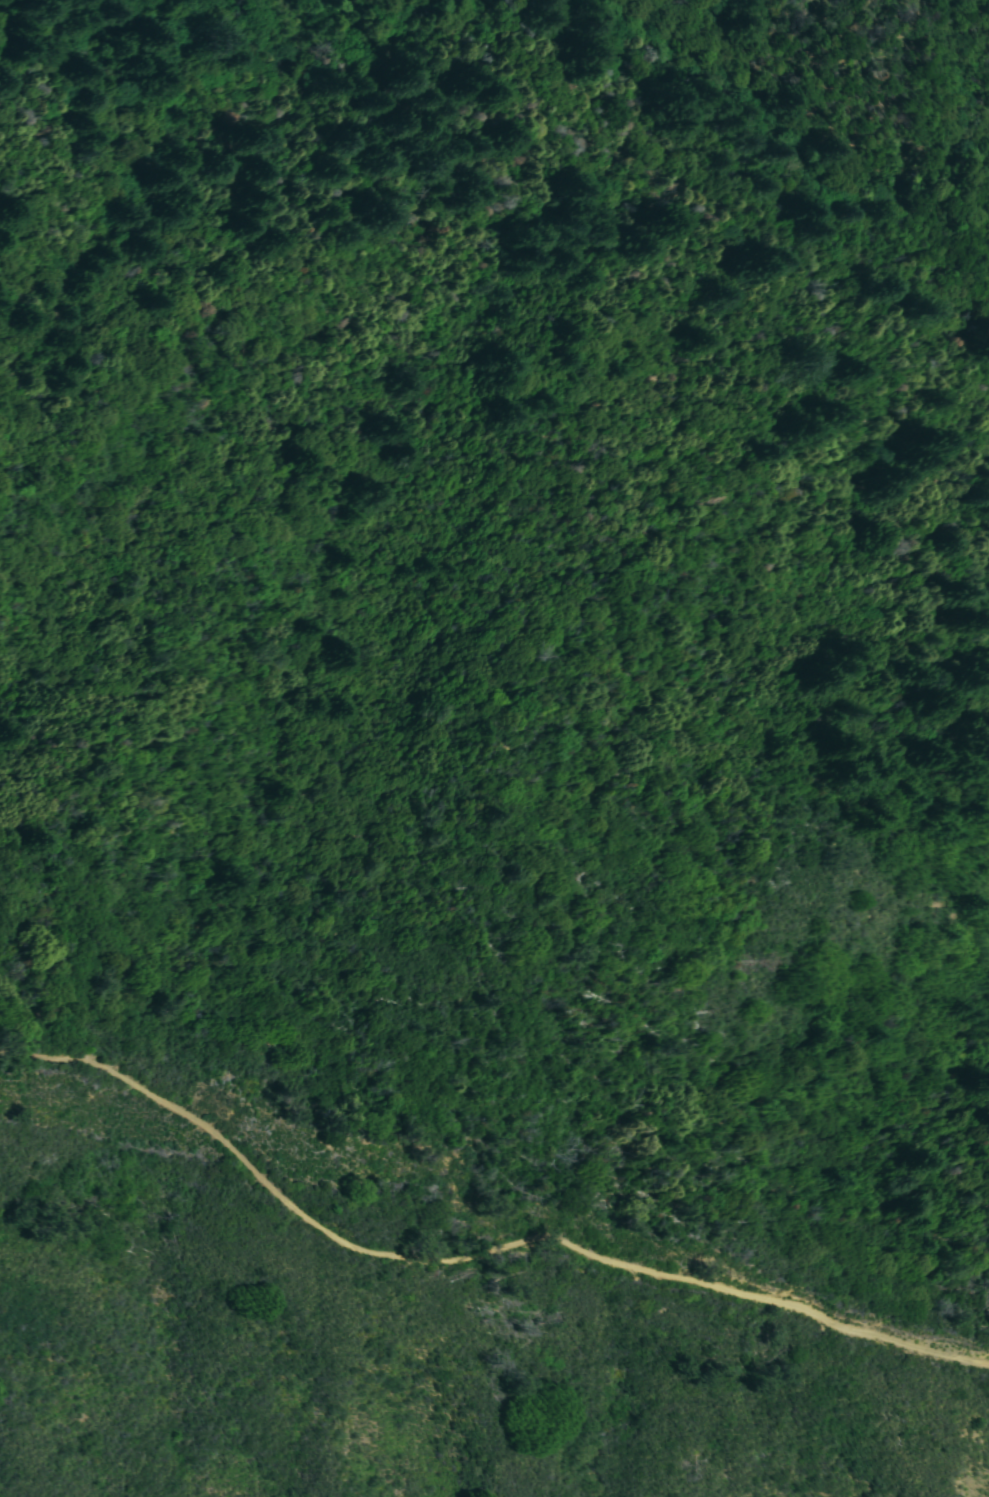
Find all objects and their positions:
road: (475, 1250)

